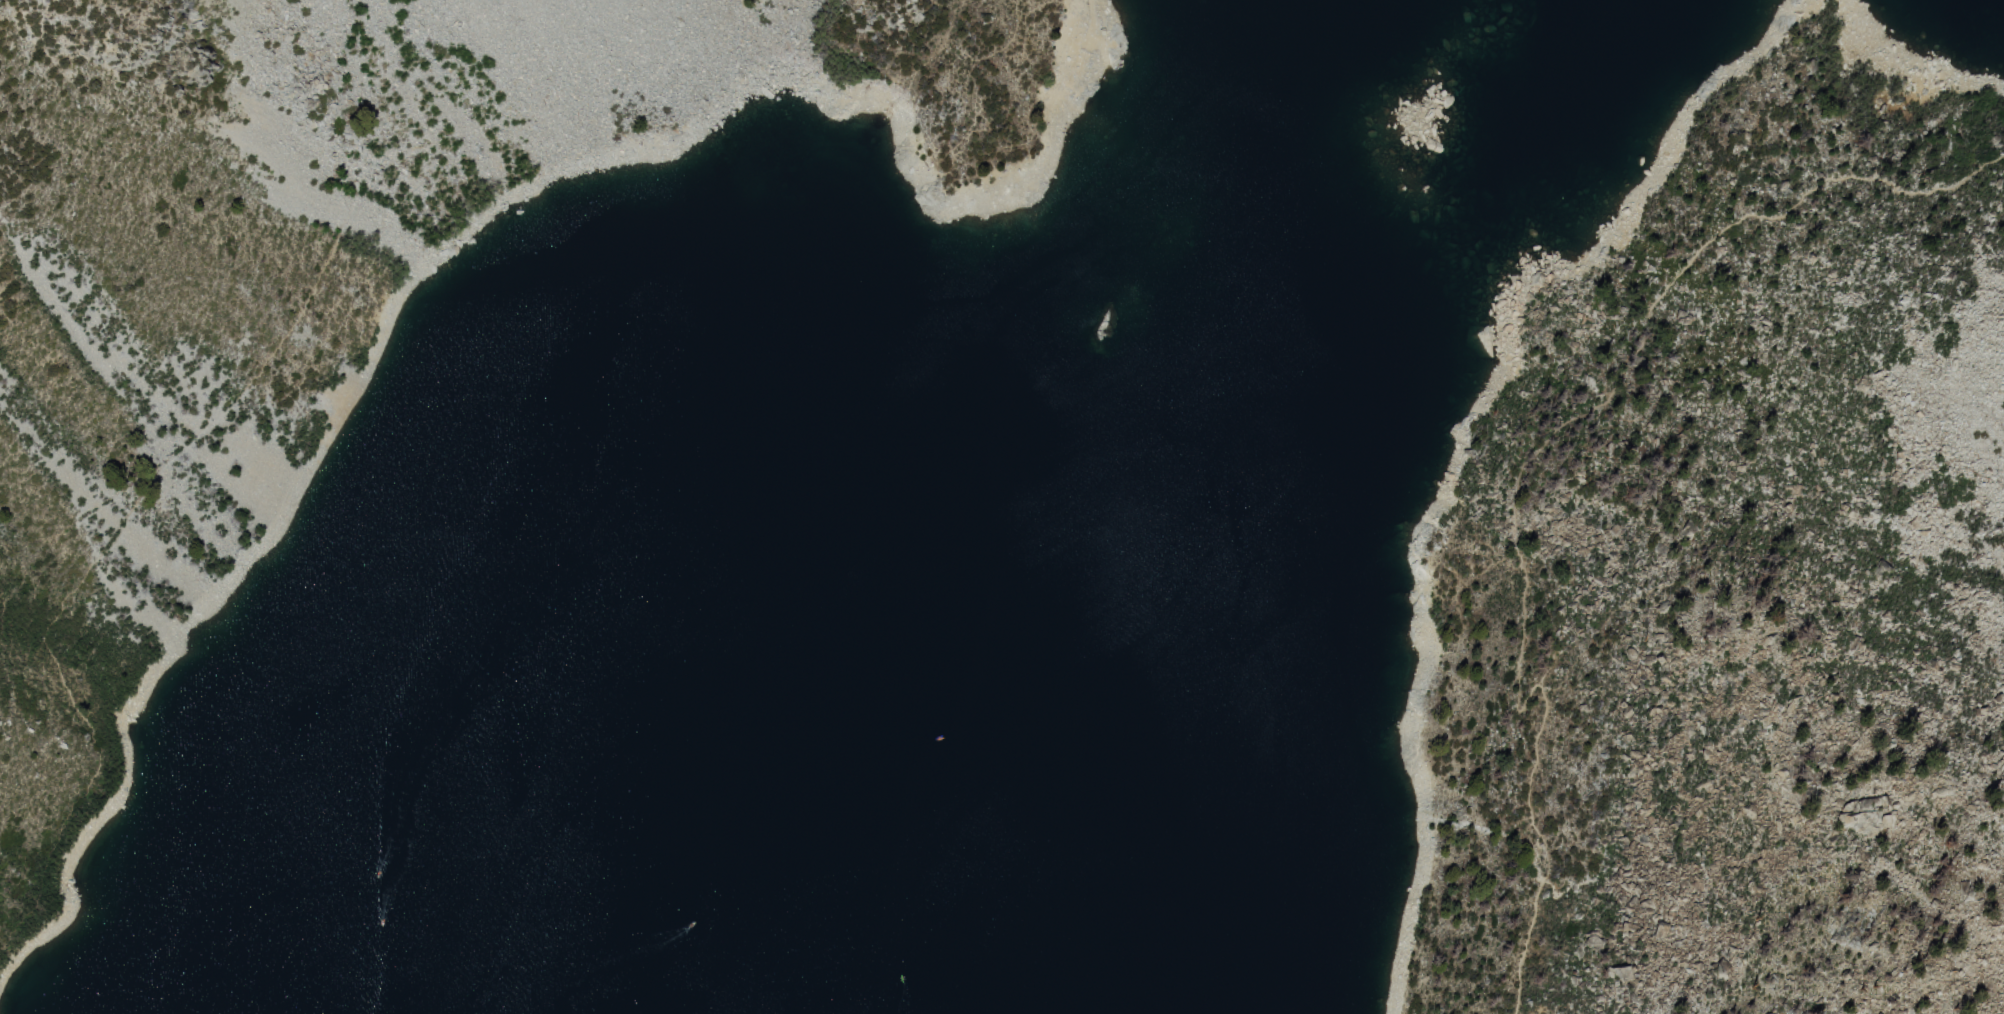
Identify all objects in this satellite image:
road: (306, 293)
road: (1527, 468)

